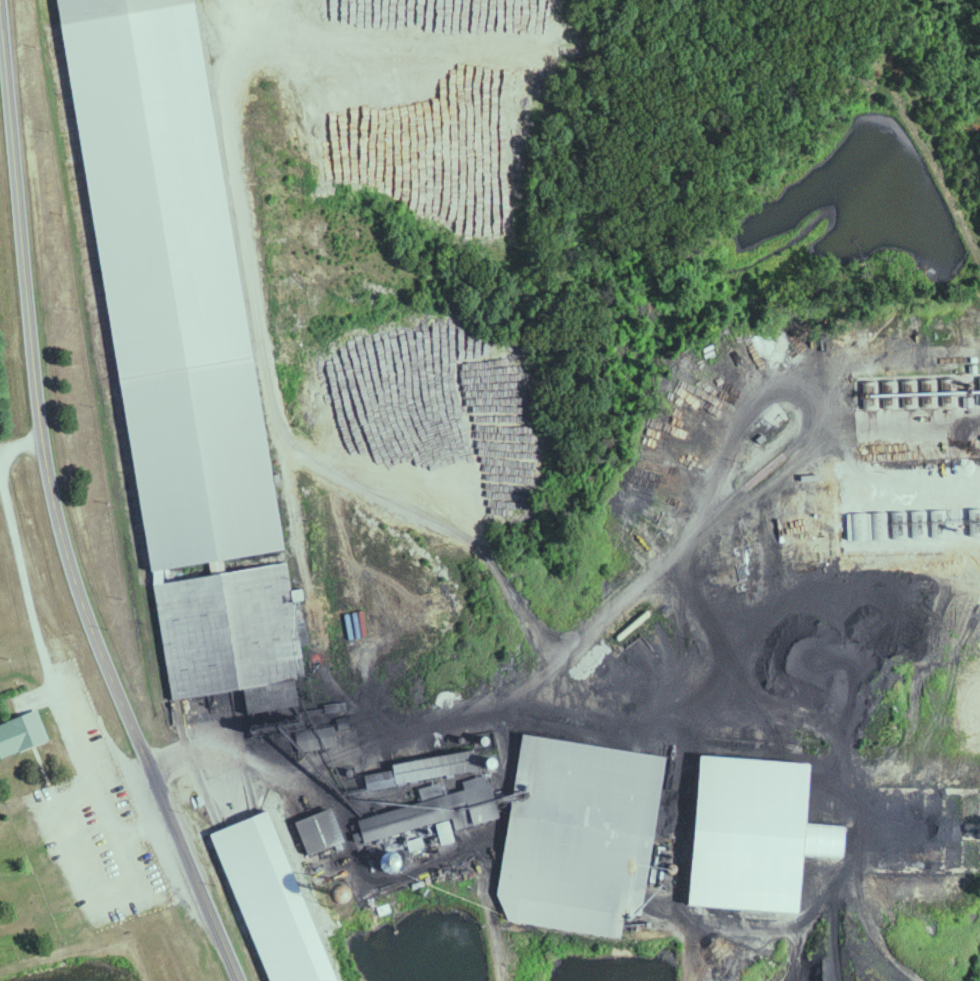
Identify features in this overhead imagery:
road: (270, 356)
road: (808, 428)
road: (22, 443)
road: (55, 506)
building: (219, 514)
road: (460, 537)
building: (240, 635)
road: (54, 681)
road: (482, 711)
building: (25, 732)
road: (708, 774)
building: (449, 790)
building: (580, 824)
building: (325, 830)
building: (762, 833)
road: (387, 884)
building: (279, 900)

